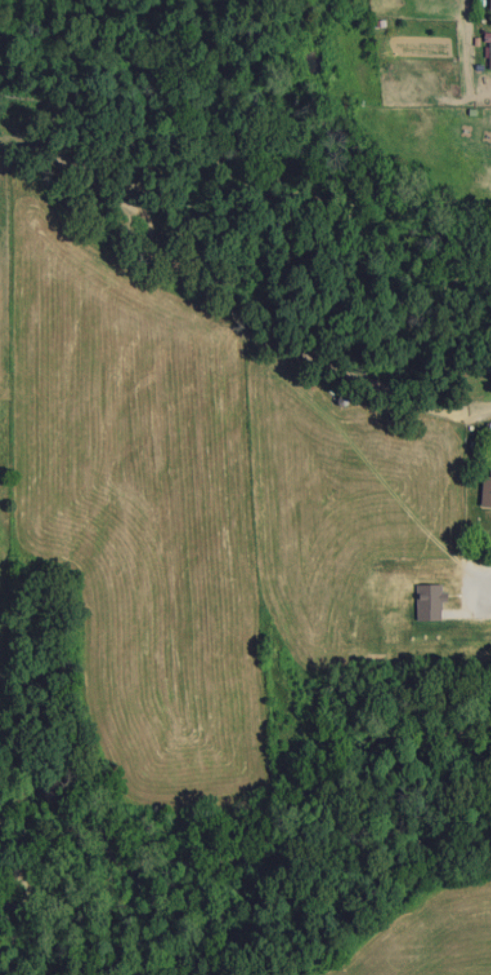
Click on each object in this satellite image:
building: (489, 5)
building: (489, 55)
building: (484, 491)

